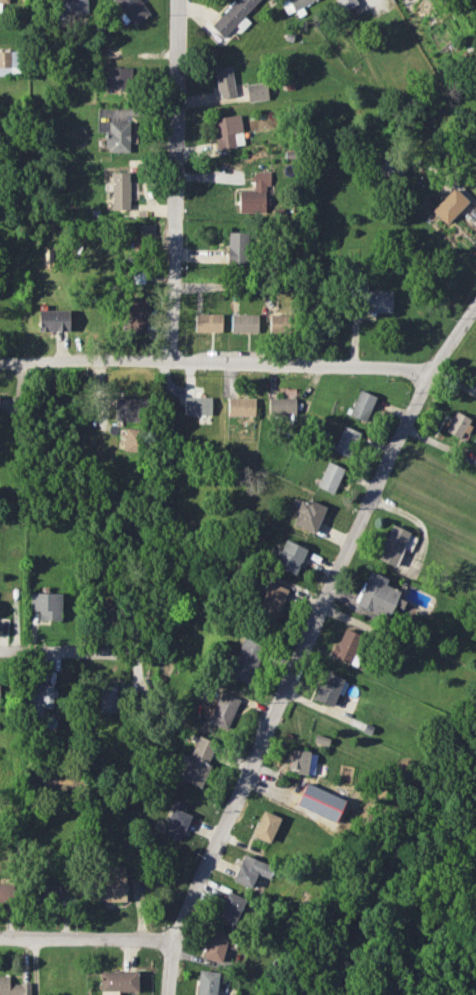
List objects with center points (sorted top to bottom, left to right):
building: (4, 1)
building: (293, 4)
building: (346, 4)
building: (72, 7)
building: (133, 10)
building: (234, 16)
building: (8, 62)
road: (175, 77)
building: (119, 78)
building: (224, 81)
building: (256, 91)
building: (228, 131)
building: (117, 136)
road: (176, 175)
building: (119, 190)
building: (255, 195)
building: (449, 205)
building: (144, 233)
building: (236, 246)
building: (137, 275)
road: (174, 279)
building: (378, 301)
building: (136, 313)
building: (53, 320)
building: (279, 321)
building: (208, 322)
building: (244, 323)
road: (215, 362)
building: (475, 370)
building: (197, 405)
building: (362, 405)
building: (240, 406)
building: (281, 406)
building: (128, 409)
building: (457, 424)
building: (346, 441)
building: (330, 477)
building: (307, 515)
building: (395, 544)
building: (288, 556)
building: (271, 596)
building: (383, 598)
building: (46, 605)
road: (314, 622)
building: (347, 644)
road: (70, 654)
building: (244, 659)
building: (328, 688)
building: (41, 698)
building: (107, 698)
building: (223, 710)
building: (197, 761)
building: (303, 761)
building: (176, 821)
building: (265, 826)
building: (251, 870)
building: (111, 887)
building: (5, 894)
building: (230, 908)
road: (87, 941)
building: (215, 945)
road: (171, 969)
building: (117, 982)
building: (207, 983)
building: (13, 987)

